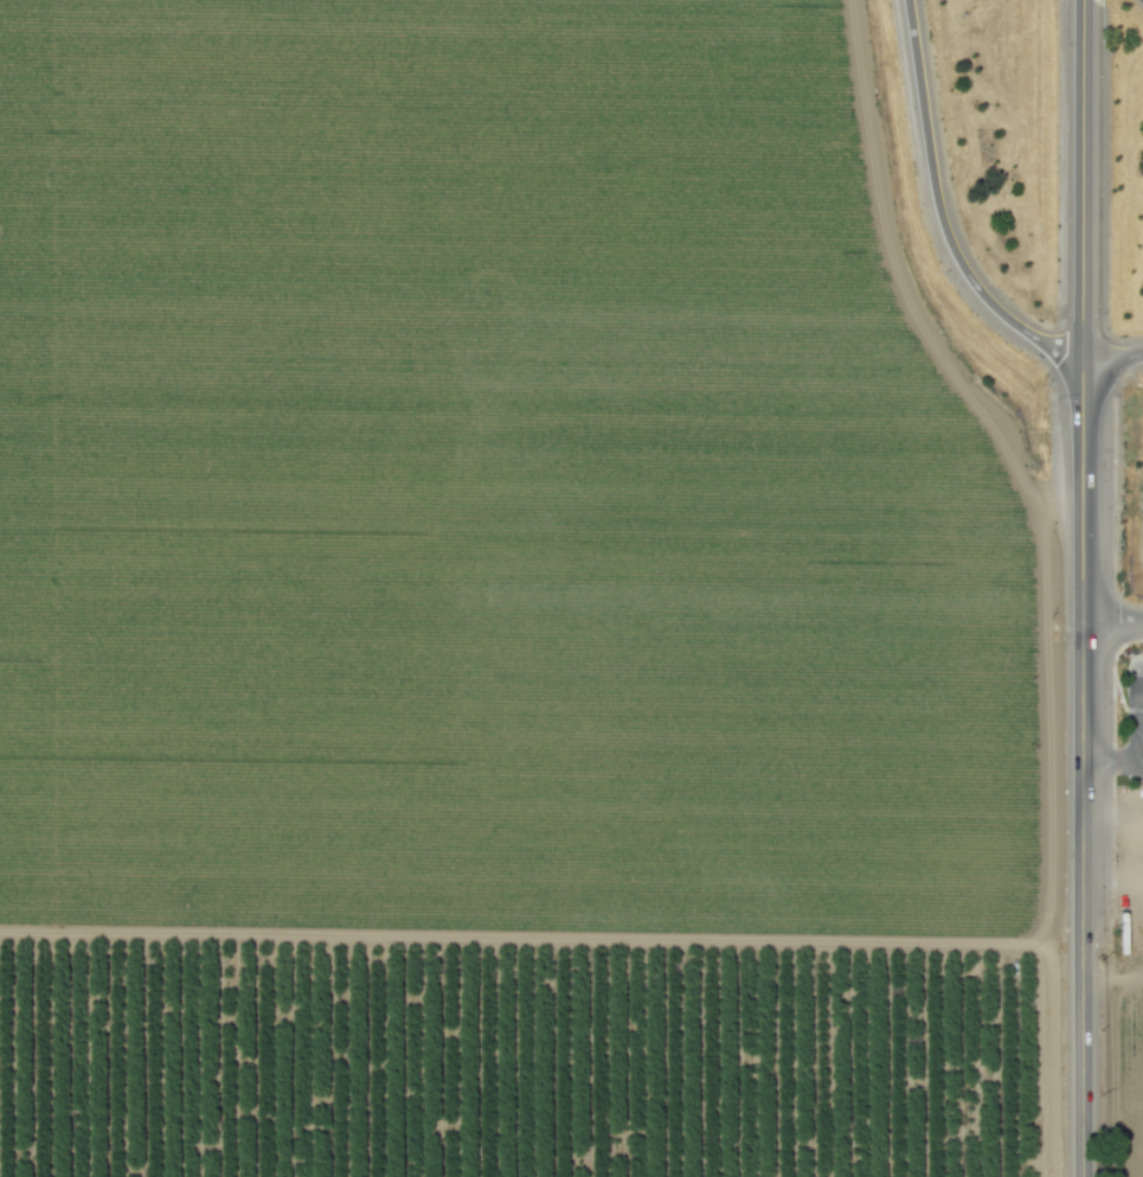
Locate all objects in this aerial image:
road: (938, 210)
street lamp: (1099, 315)
road: (1111, 359)
street lamp: (1054, 399)
road: (1080, 588)
road: (1111, 622)
street lamp: (1119, 652)
road: (1134, 711)
road: (1111, 766)
road: (1107, 813)
road: (1112, 881)
road: (1111, 979)
crop: (1131, 1082)

